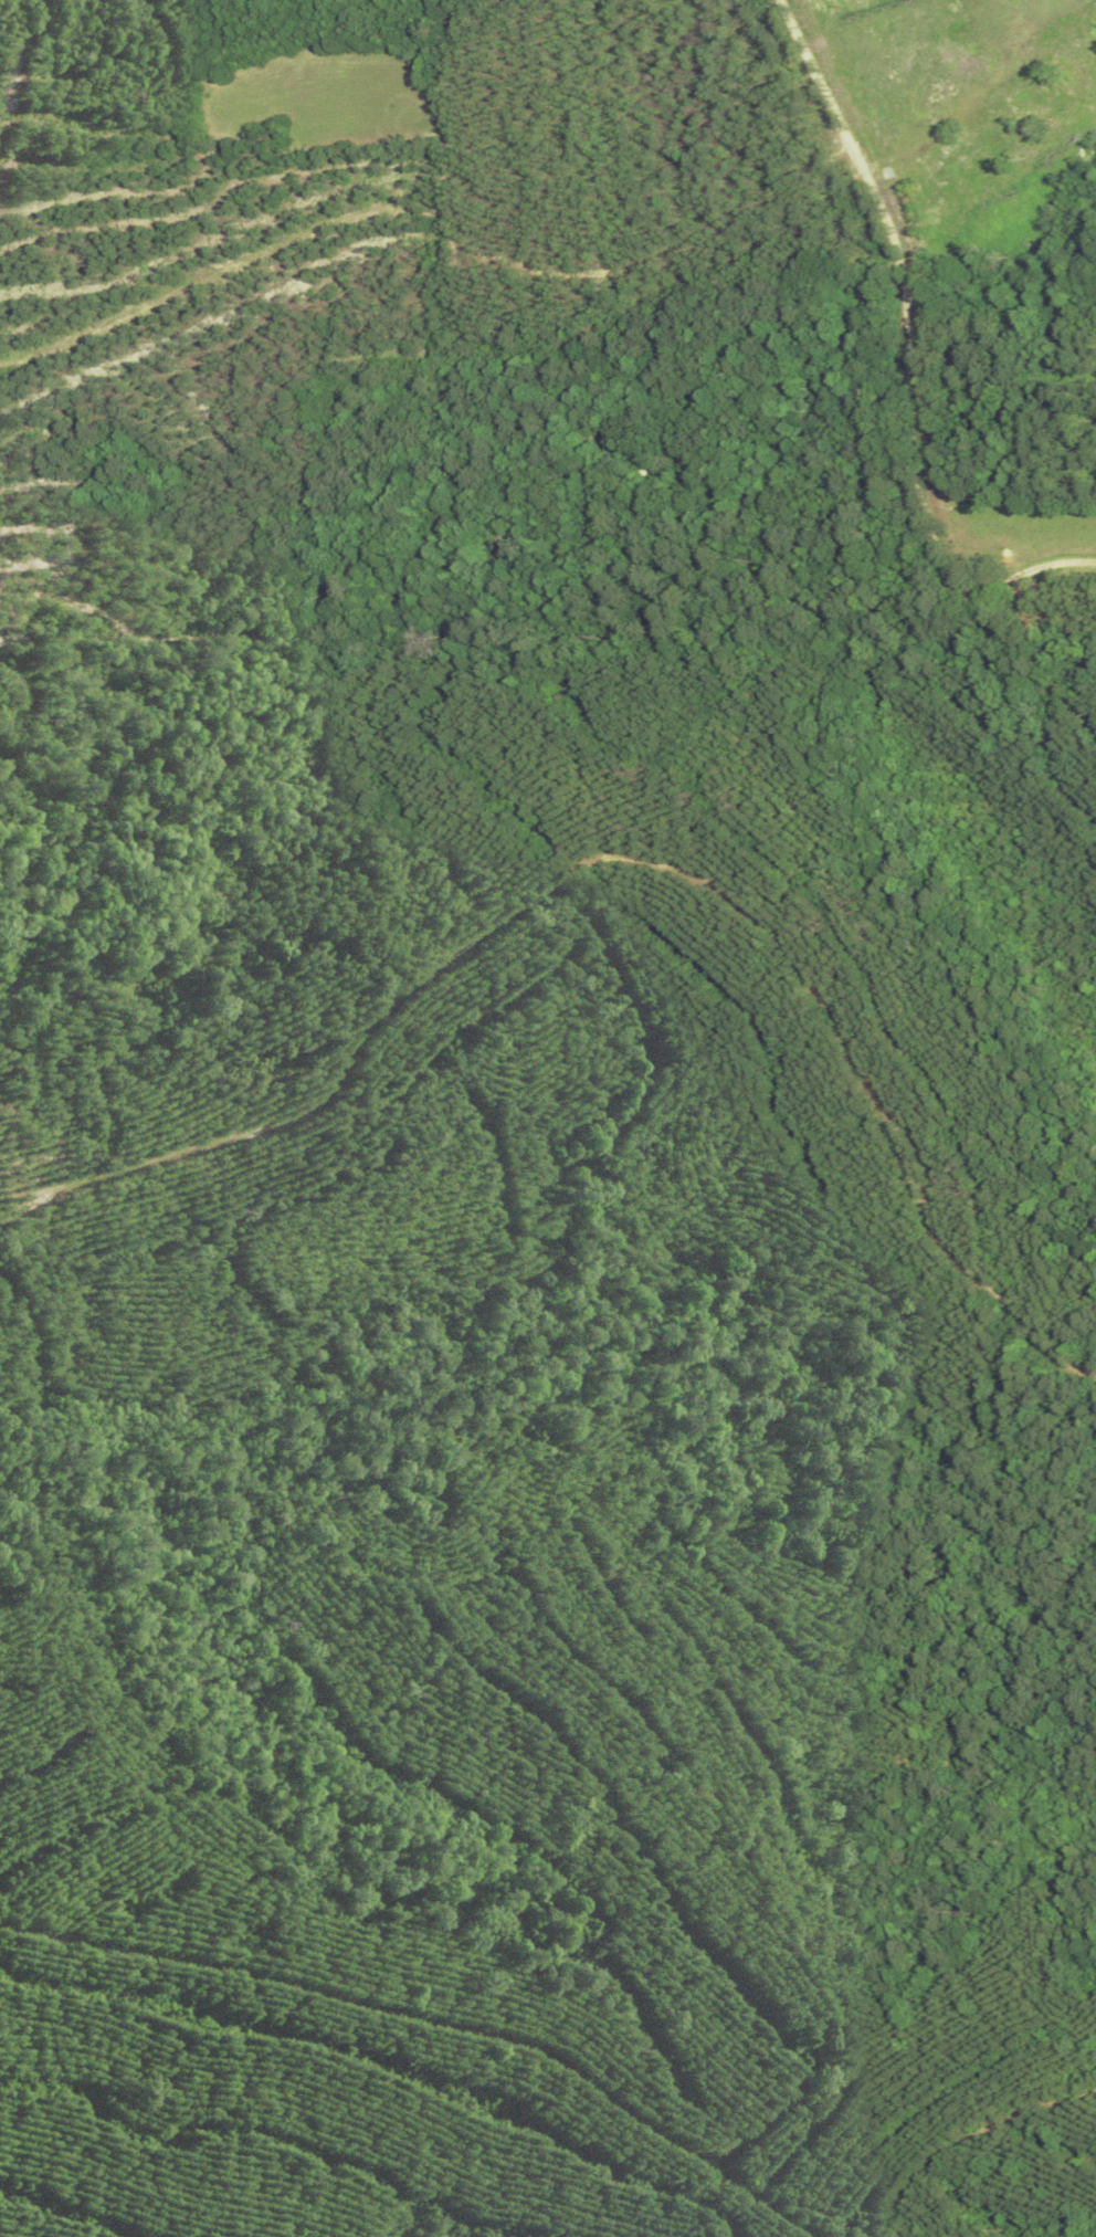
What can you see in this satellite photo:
road: (908, 385)
road: (1027, 566)
road: (937, 2105)

